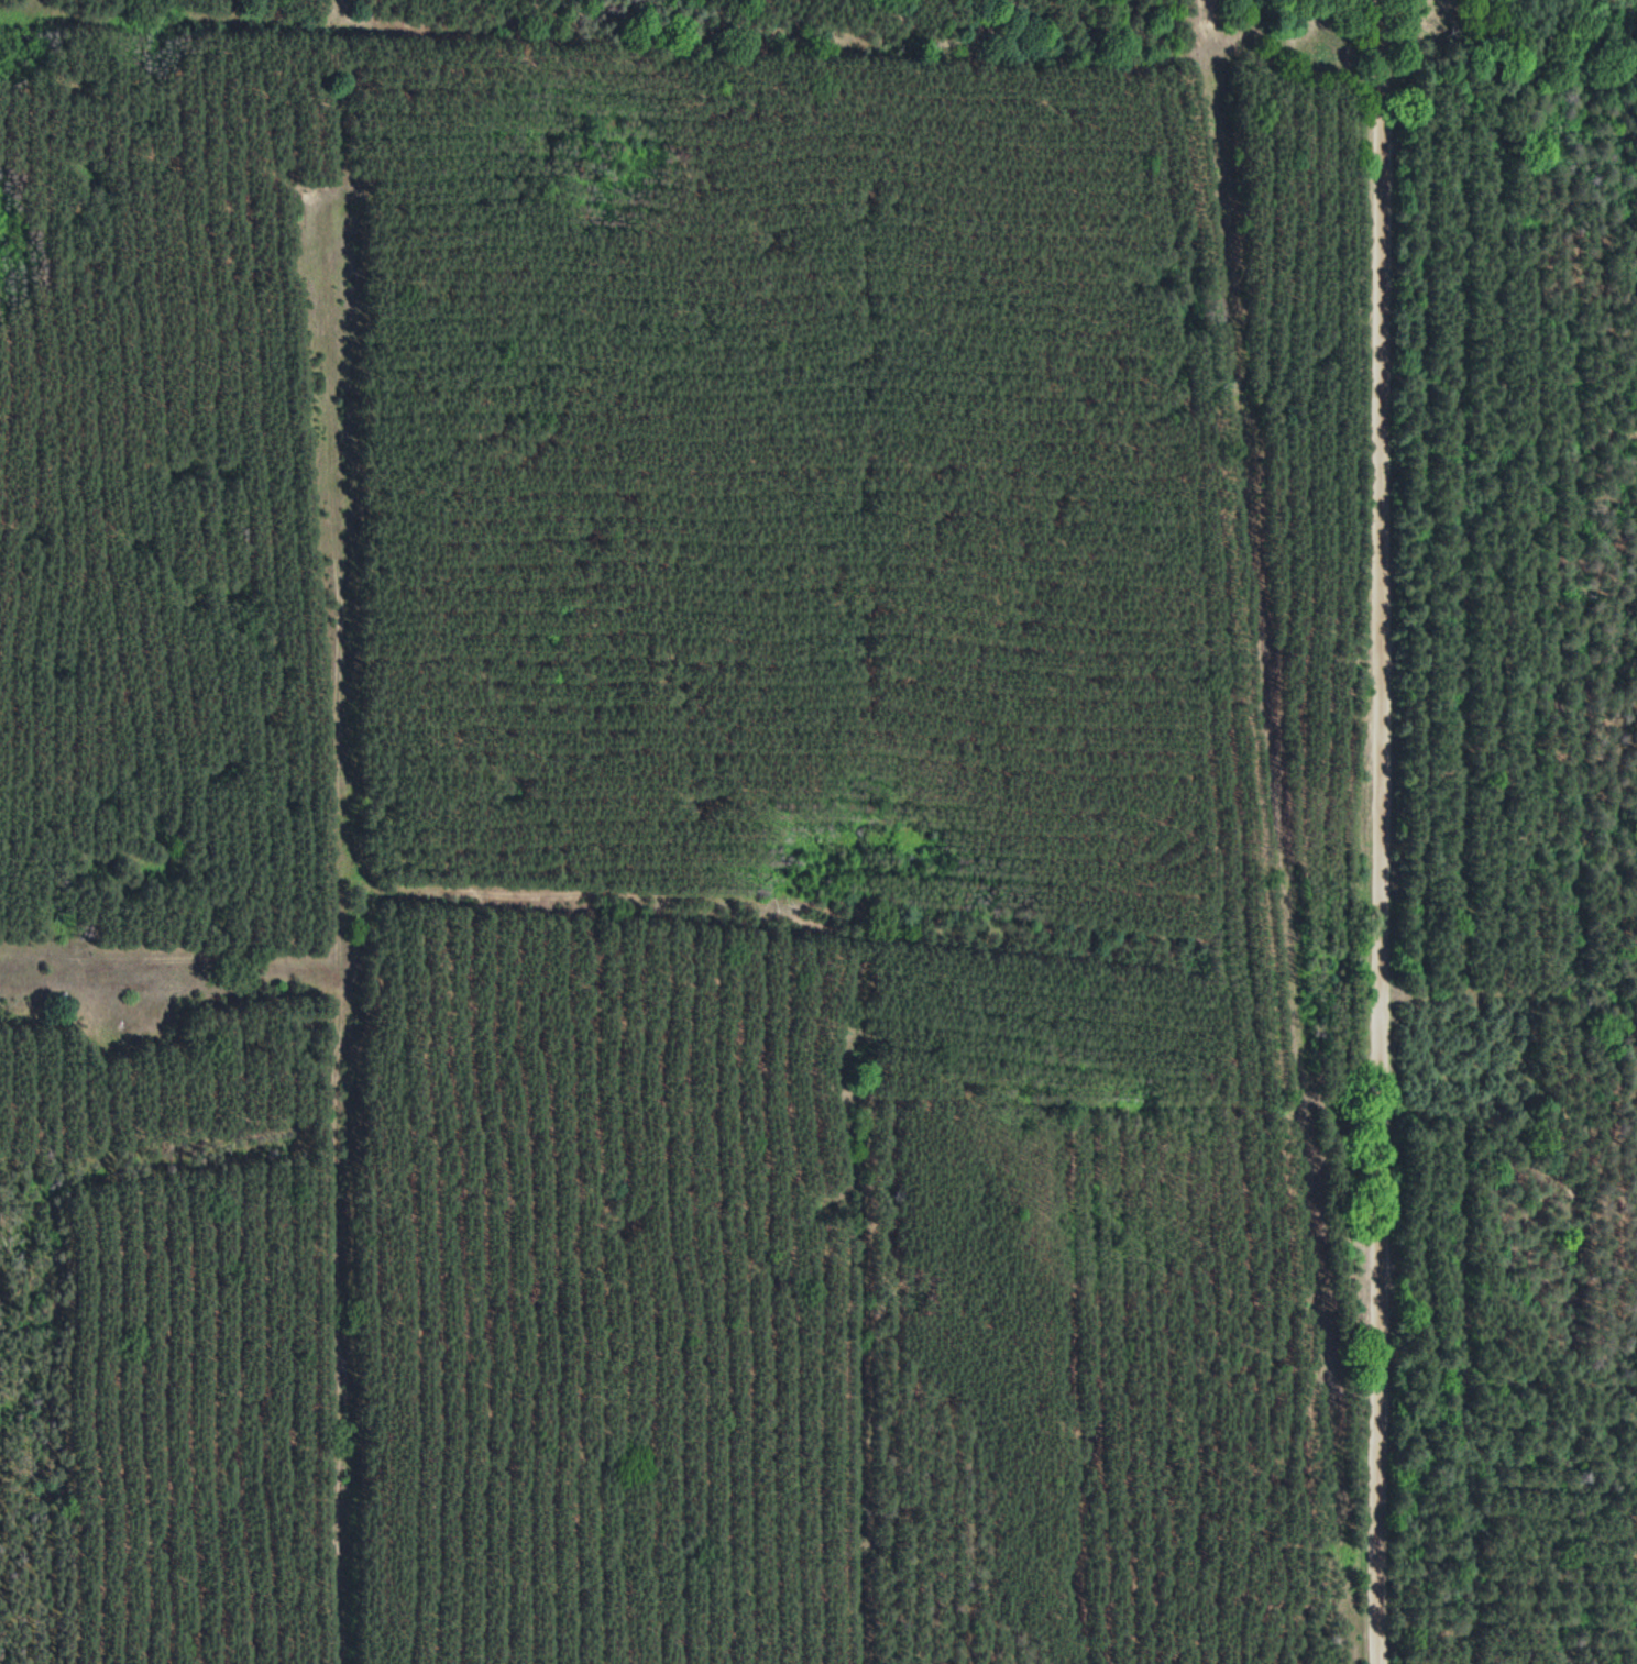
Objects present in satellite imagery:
road: (1369, 831)

